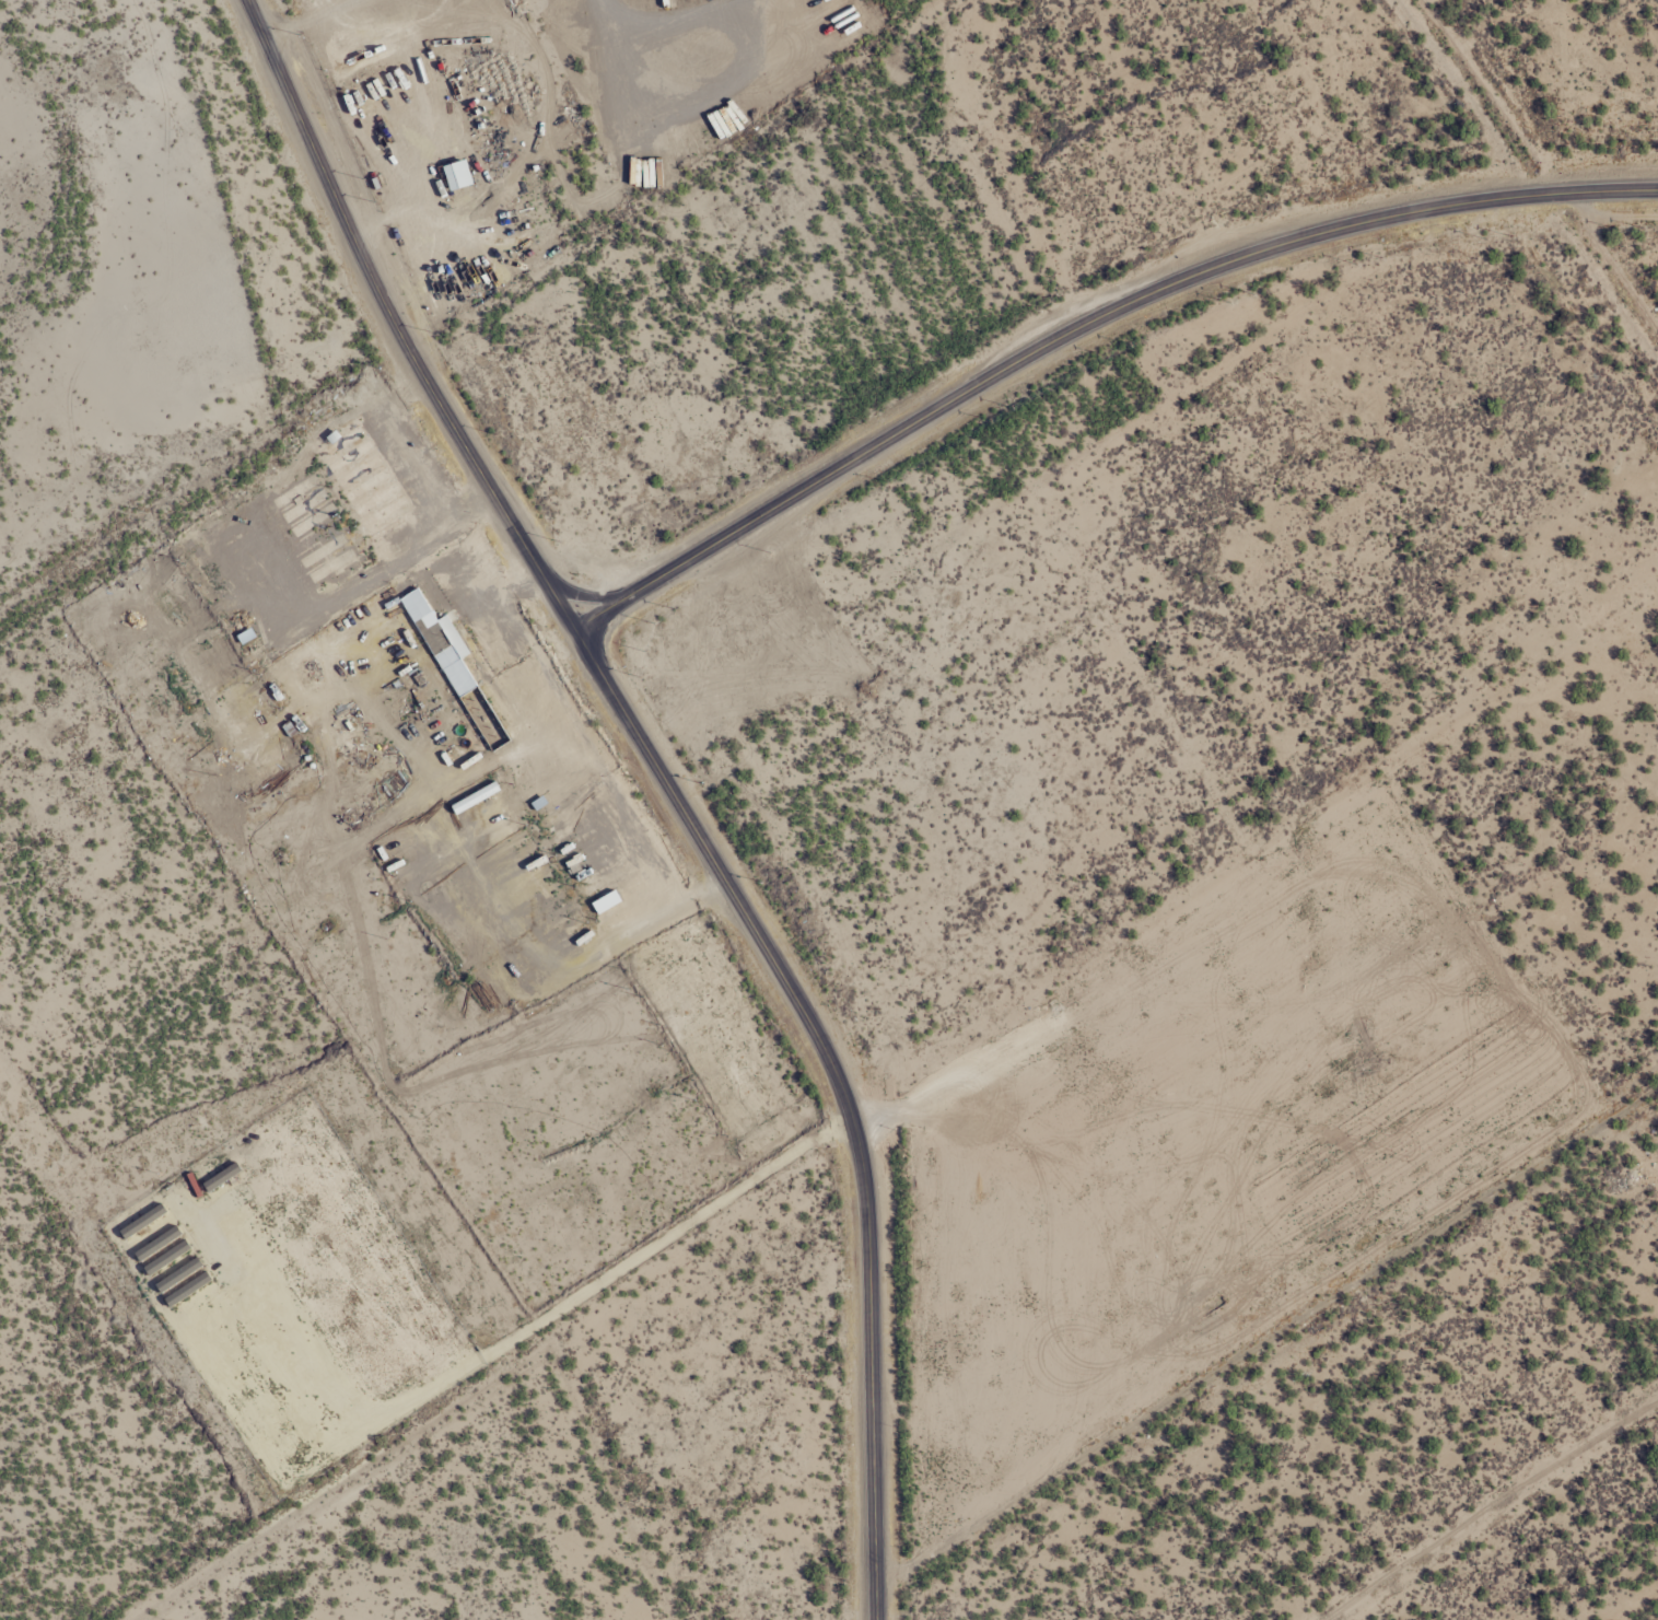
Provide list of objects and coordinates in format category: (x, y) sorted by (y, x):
building: (455, 175)
road: (394, 323)
road: (1084, 325)
building: (352, 463)
building: (374, 500)
building: (303, 505)
building: (383, 513)
road: (585, 595)
building: (440, 643)
road: (841, 1089)
road: (650, 1248)

